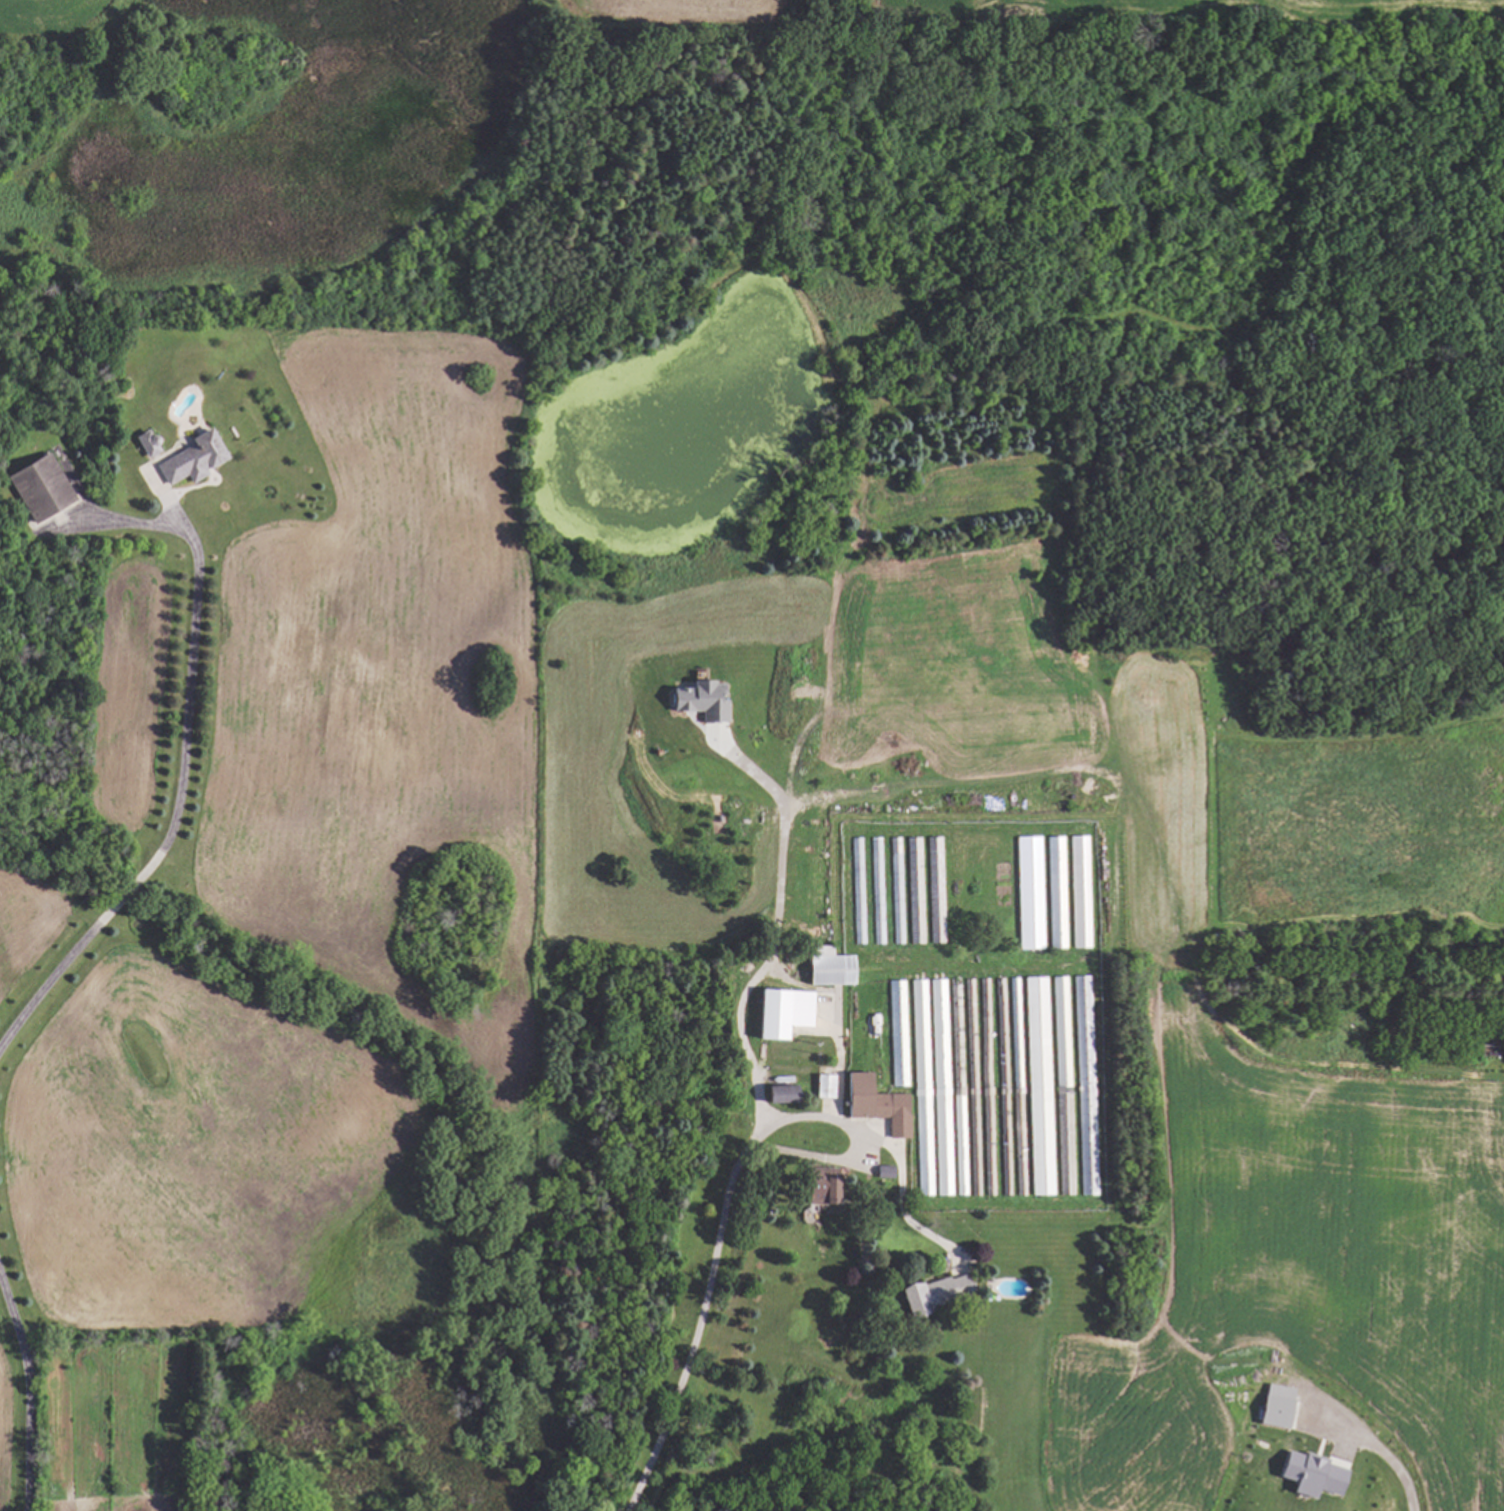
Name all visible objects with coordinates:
crop: (1166, 9)
crop: (62, 19)
building: (144, 443)
building: (189, 458)
building: (37, 486)
building: (697, 700)
road: (180, 764)
building: (934, 884)
building: (856, 887)
building: (1055, 889)
building: (915, 891)
building: (1079, 891)
building: (1027, 892)
building: (897, 895)
building: (876, 899)
road: (775, 928)
building: (826, 968)
building: (780, 1013)
building: (871, 1025)
building: (1060, 1032)
building: (897, 1033)
building: (921, 1080)
building: (1085, 1084)
building: (822, 1086)
building: (1038, 1086)
building: (940, 1087)
building: (776, 1095)
building: (874, 1104)
road: (854, 1142)
building: (881, 1172)
building: (818, 1186)
road: (900, 1195)
building: (934, 1293)
road: (701, 1327)
road: (25, 1392)
building: (1272, 1412)
road: (1402, 1473)
building: (1309, 1475)

